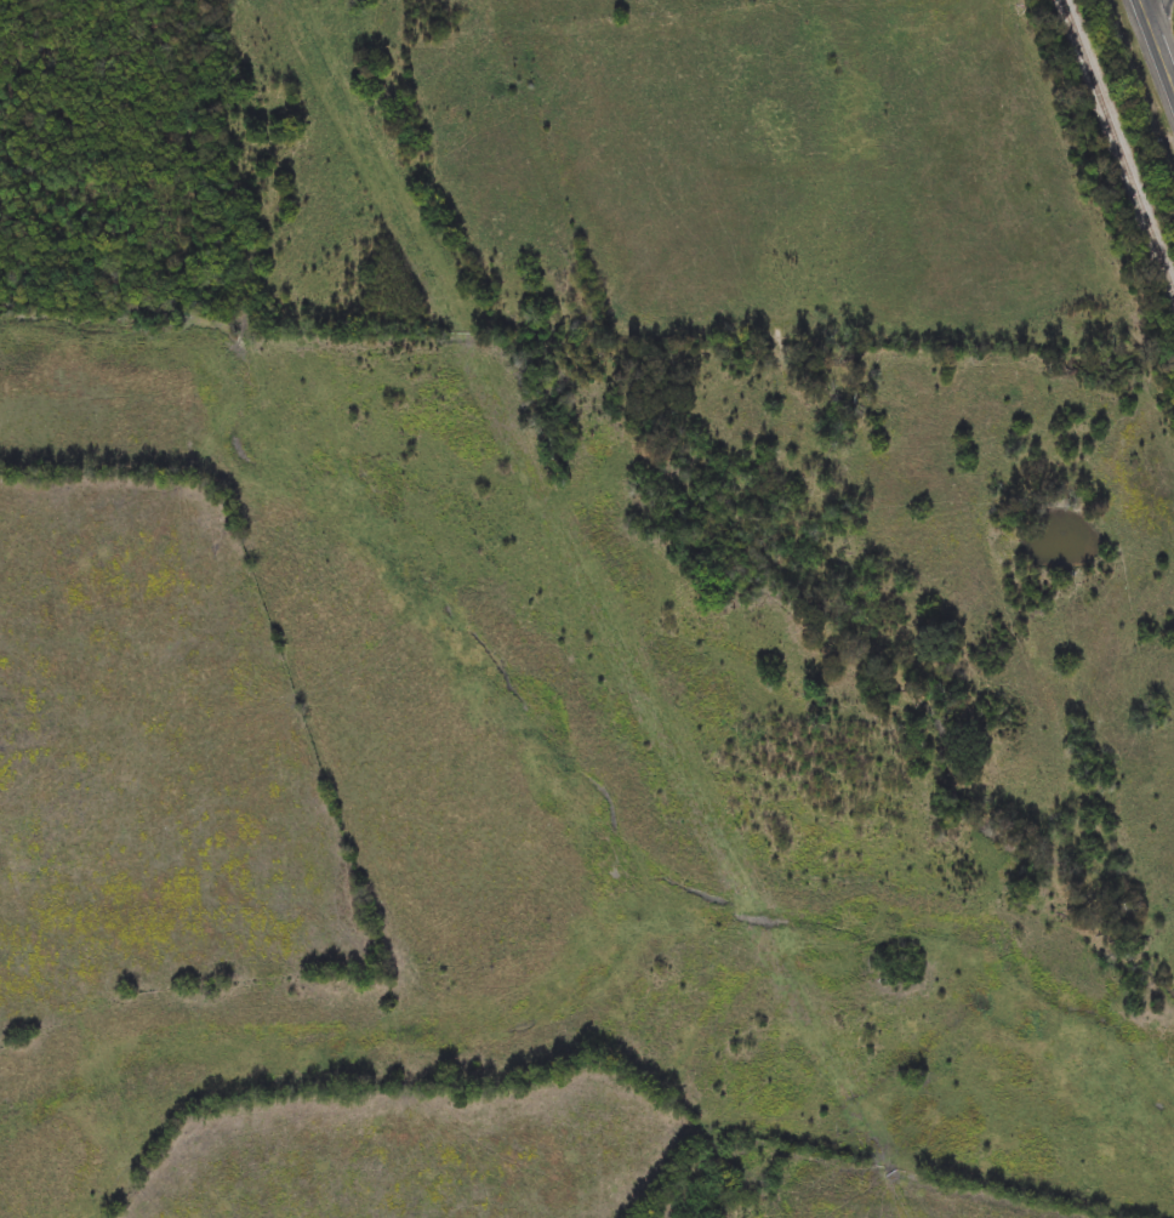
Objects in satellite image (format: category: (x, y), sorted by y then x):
road: (1161, 8)
road: (1159, 38)
railway: (1121, 141)

